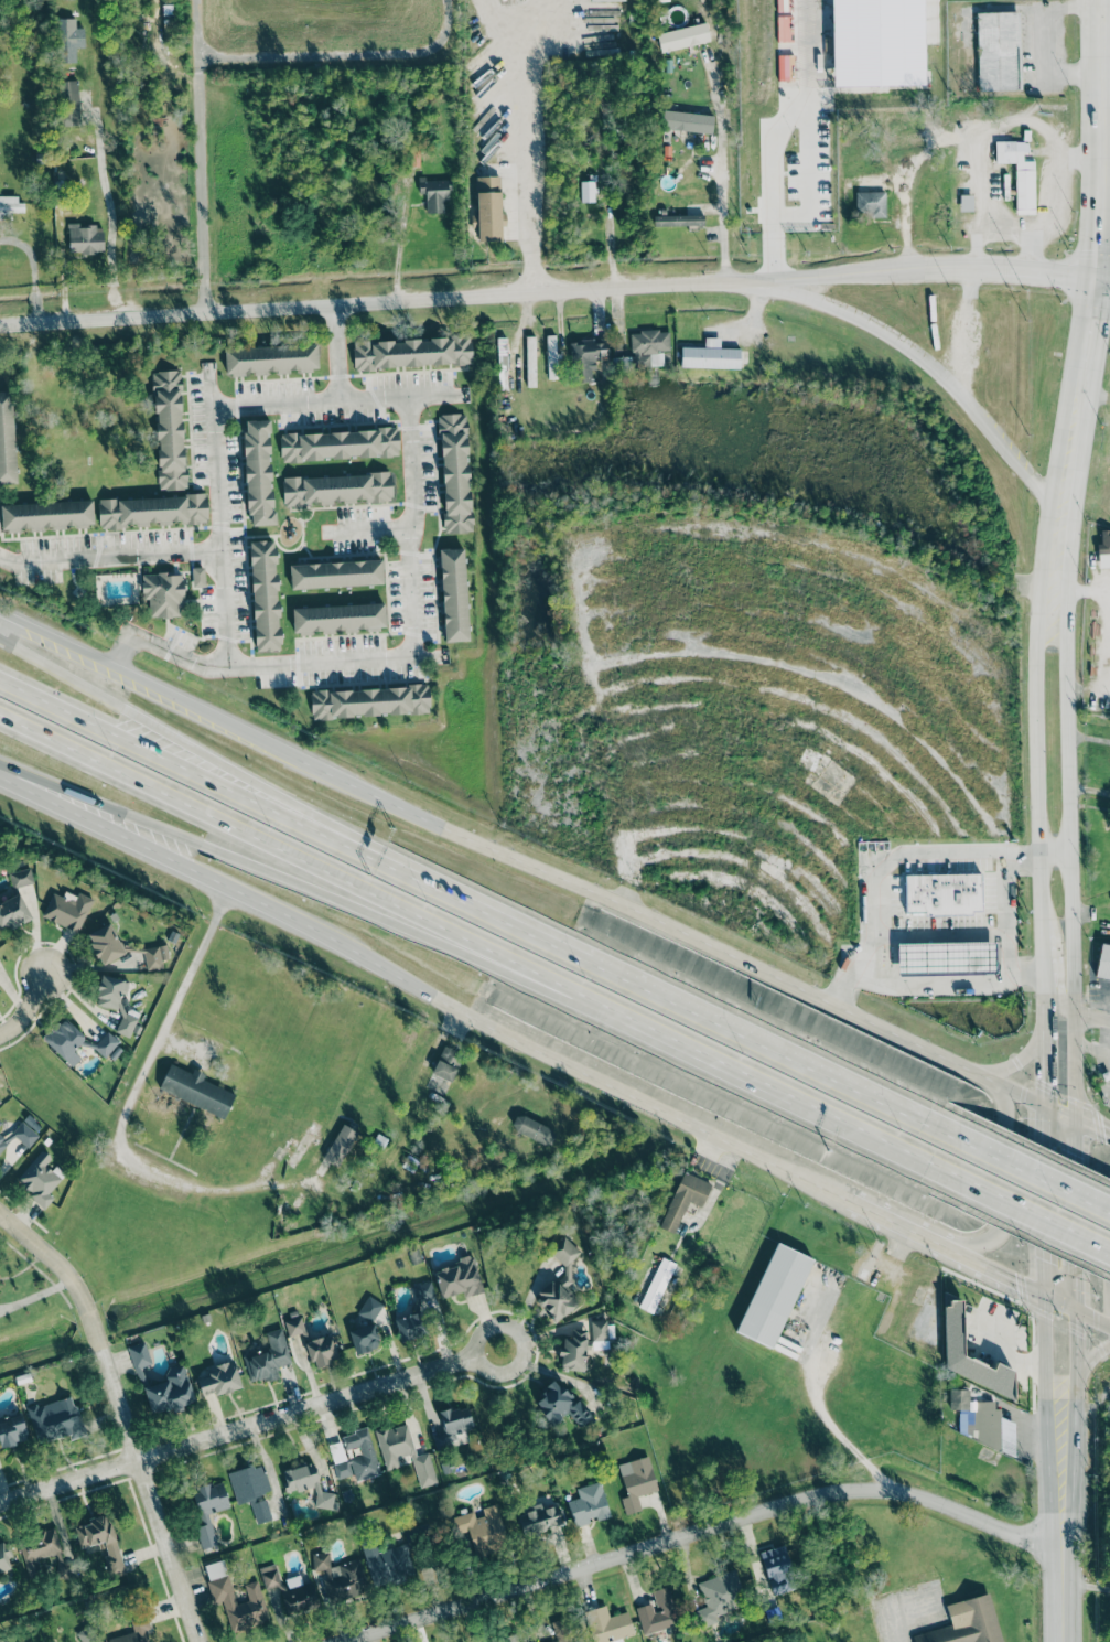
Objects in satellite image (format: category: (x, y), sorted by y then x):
building: (682, 36)
building: (67, 39)
building: (998, 51)
building: (71, 103)
building: (687, 121)
road: (810, 126)
road: (991, 138)
road: (1098, 139)
road: (538, 143)
road: (721, 169)
building: (1017, 172)
building: (586, 189)
road: (773, 191)
building: (433, 193)
building: (870, 202)
building: (966, 202)
building: (10, 205)
building: (488, 207)
road: (109, 213)
road: (1050, 218)
building: (678, 219)
road: (1005, 230)
building: (85, 238)
road: (398, 250)
road: (33, 270)
traffic signals: (1097, 279)
road: (1103, 279)
road: (548, 290)
building: (648, 346)
building: (502, 348)
road: (337, 351)
building: (411, 352)
building: (586, 355)
building: (709, 355)
building: (270, 358)
building: (554, 358)
building: (530, 361)
road: (931, 363)
road: (332, 399)
road: (1079, 400)
building: (169, 429)
building: (7, 440)
building: (338, 444)
building: (258, 472)
building: (454, 472)
building: (336, 487)
building: (150, 509)
building: (46, 514)
road: (217, 518)
road: (369, 529)
building: (1104, 548)
road: (109, 551)
road: (1056, 559)
building: (335, 573)
building: (197, 576)
building: (453, 593)
road: (1080, 593)
building: (162, 594)
building: (263, 594)
building: (338, 618)
road: (385, 657)
road: (1102, 689)
building: (369, 701)
road: (181, 742)
road: (181, 764)
road: (939, 851)
road: (1036, 856)
road: (258, 865)
road: (536, 865)
building: (21, 878)
building: (942, 892)
road: (465, 901)
road: (396, 902)
building: (12, 912)
road: (937, 935)
road: (1039, 943)
building: (105, 944)
road: (1070, 949)
building: (154, 956)
building: (946, 957)
gas station: (946, 957)
road: (1059, 959)
building: (1103, 963)
road: (419, 983)
road: (929, 983)
building: (110, 992)
building: (0, 994)
road: (28, 1007)
road: (1091, 1018)
building: (127, 1022)
building: (64, 1040)
road: (758, 1042)
building: (107, 1045)
road: (1091, 1048)
building: (446, 1064)
building: (196, 1090)
traffic signals: (1041, 1103)
traffic signals: (1074, 1114)
building: (0, 1123)
road: (1091, 1123)
road: (862, 1127)
building: (532, 1129)
building: (19, 1135)
building: (302, 1145)
building: (340, 1145)
road: (1030, 1172)
building: (40, 1178)
road: (182, 1183)
building: (683, 1199)
road: (1021, 1204)
road: (989, 1239)
road: (953, 1252)
road: (63, 1270)
building: (459, 1278)
building: (559, 1284)
building: (658, 1285)
traffic signals: (1042, 1294)
building: (774, 1295)
traffic signals: (1075, 1306)
building: (369, 1308)
building: (417, 1312)
road: (1092, 1313)
building: (294, 1327)
building: (952, 1328)
building: (599, 1334)
building: (364, 1339)
road: (476, 1345)
building: (321, 1351)
building: (574, 1351)
road: (1000, 1352)
building: (268, 1357)
building: (139, 1360)
building: (219, 1378)
building: (170, 1391)
building: (958, 1399)
building: (559, 1405)
building: (55, 1419)
building: (453, 1427)
building: (991, 1428)
road: (238, 1429)
road: (833, 1429)
road: (1046, 1430)
building: (12, 1431)
road: (1075, 1436)
building: (405, 1452)
building: (354, 1456)
building: (636, 1482)
building: (306, 1483)
building: (251, 1490)
road: (147, 1494)
building: (588, 1504)
building: (207, 1509)
building: (538, 1520)
building: (478, 1530)
road: (707, 1530)
building: (101, 1543)
building: (42, 1555)
building: (4, 1556)
building: (391, 1561)
building: (777, 1569)
building: (269, 1576)
building: (341, 1576)
road: (1087, 1585)
building: (220, 1591)
building: (298, 1595)
building: (719, 1597)
road: (1064, 1603)
building: (658, 1612)
building: (966, 1622)
building: (608, 1624)
road: (897, 1628)
building: (134, 1631)
building: (560, 1631)
building: (87, 1634)
building: (510, 1639)

